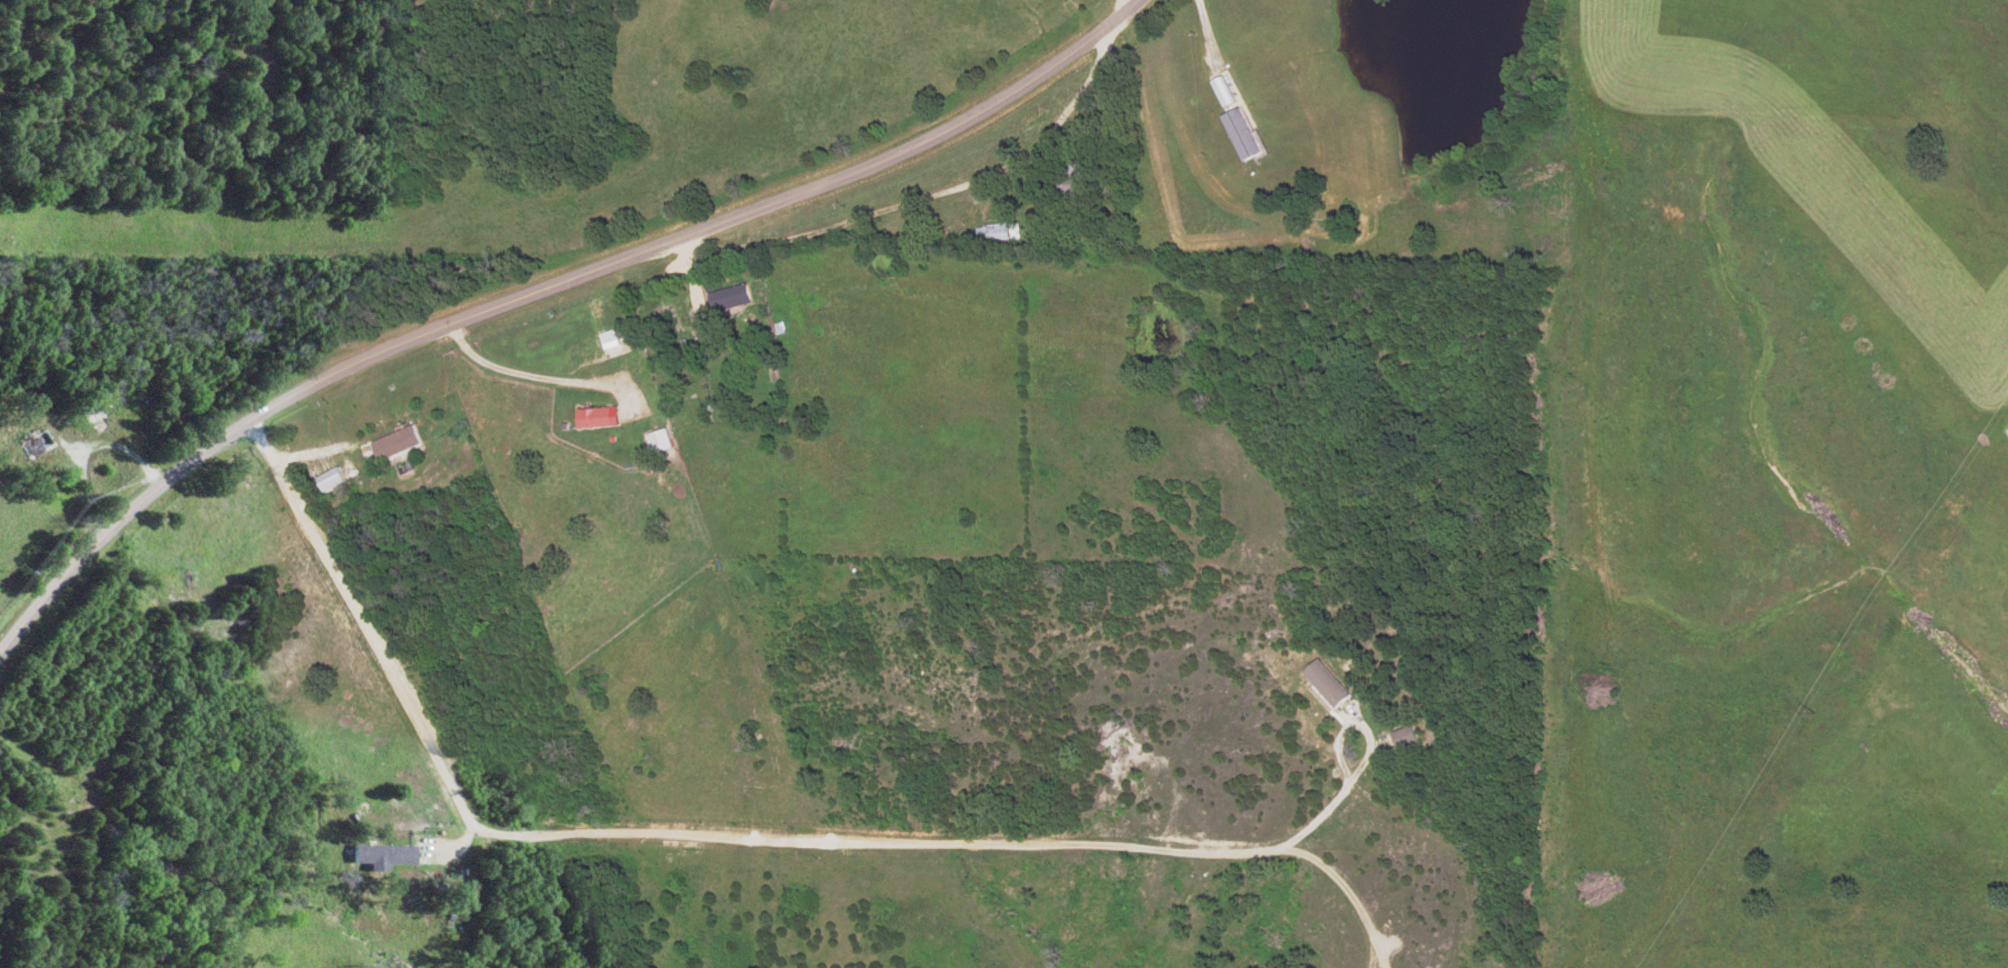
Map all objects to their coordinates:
road: (1122, 6)
road: (1204, 30)
building: (1221, 92)
building: (1239, 135)
road: (932, 192)
building: (991, 235)
road: (544, 289)
building: (734, 299)
building: (613, 337)
building: (599, 419)
building: (663, 443)
building: (400, 444)
building: (336, 480)
building: (1324, 685)
building: (1404, 740)
road: (766, 840)
building: (386, 857)
road: (1336, 882)
road: (1372, 955)
road: (1378, 955)

